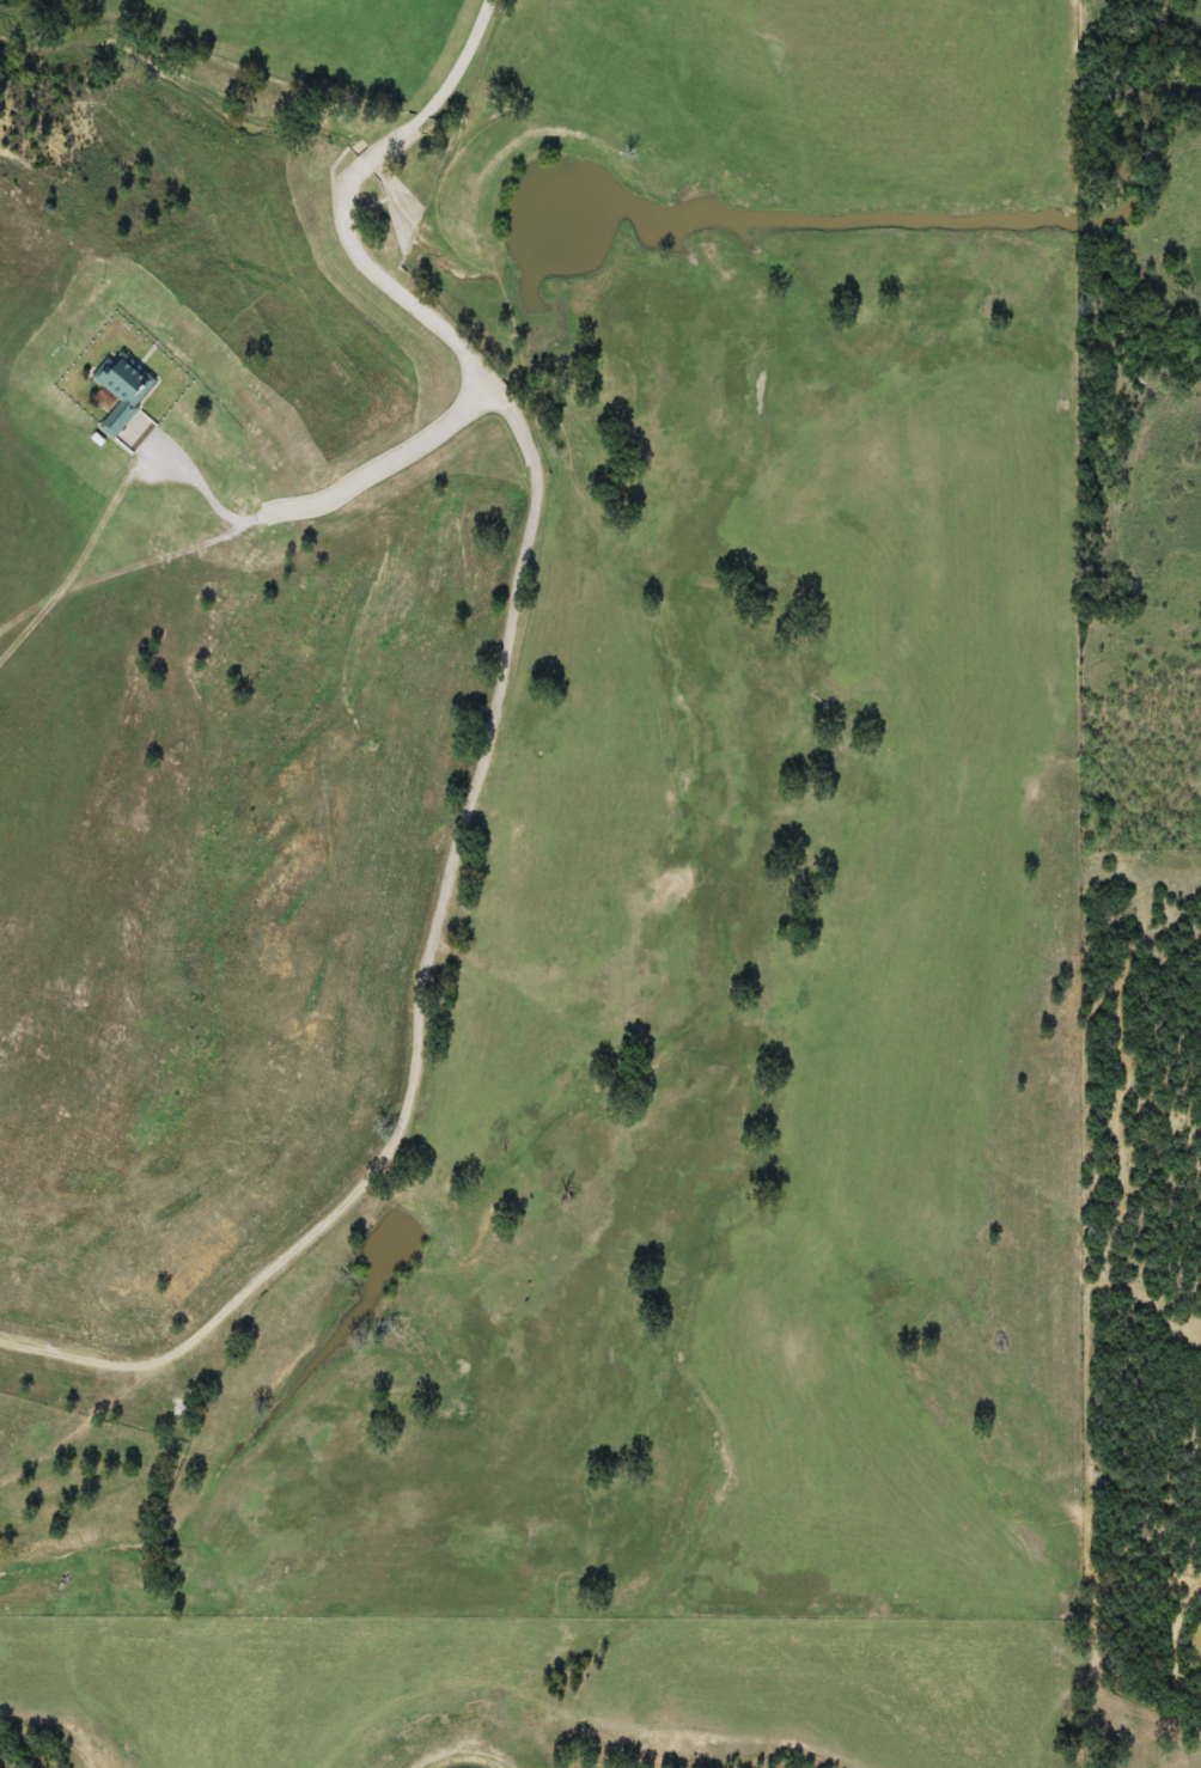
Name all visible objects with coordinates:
building: (117, 390)
road: (484, 750)

